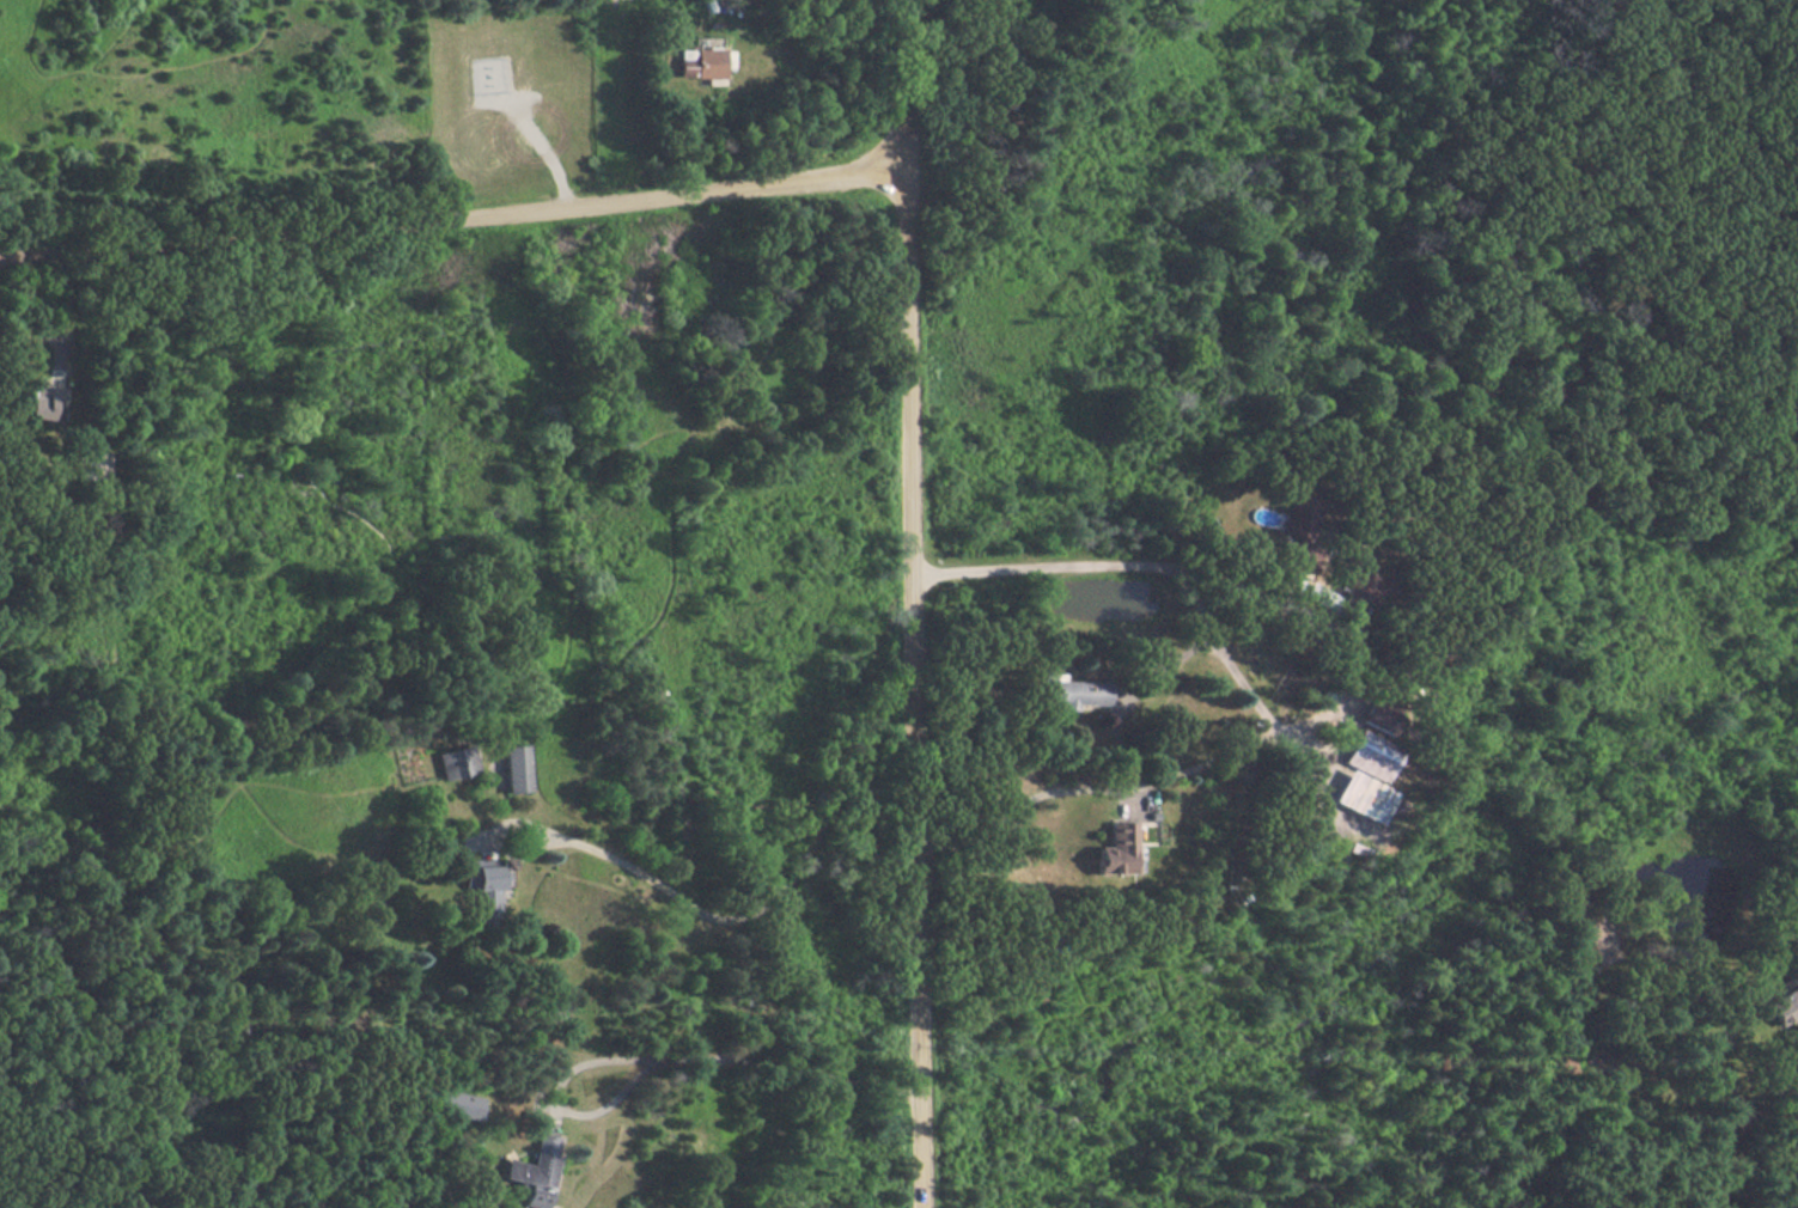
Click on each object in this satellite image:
building: (700, 65)
road: (452, 220)
road: (72, 315)
building: (43, 401)
building: (90, 465)
building: (1299, 533)
road: (1050, 574)
building: (1359, 588)
road: (916, 603)
road: (1339, 658)
building: (1075, 695)
road: (1135, 695)
building: (1382, 719)
building: (1372, 757)
building: (456, 763)
building: (513, 769)
road: (1098, 788)
building: (1360, 798)
building: (1115, 850)
building: (484, 890)
road: (769, 904)
building: (1780, 1001)
road: (670, 1075)
building: (463, 1106)
building: (532, 1173)

